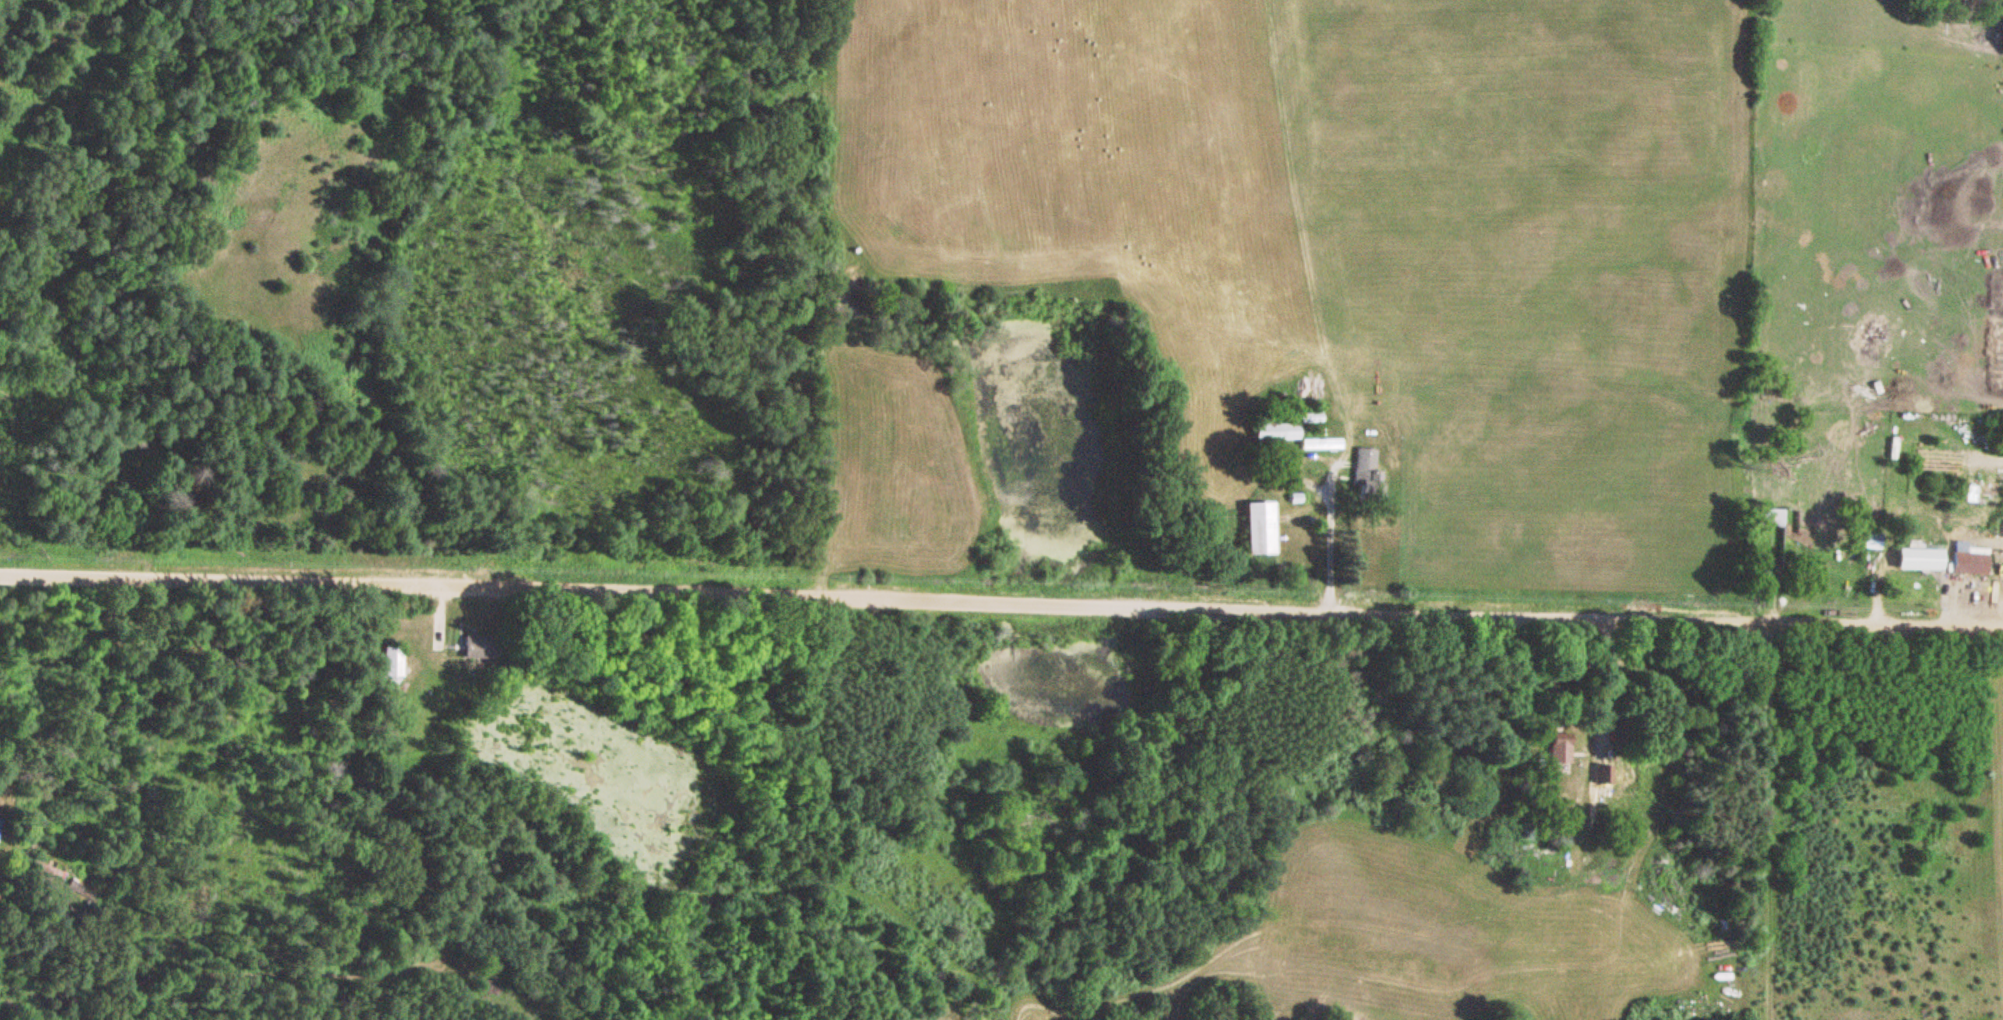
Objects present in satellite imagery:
building: (1306, 414)
building: (1272, 432)
building: (1362, 468)
building: (1254, 529)
building: (1764, 537)
building: (1964, 563)
building: (1841, 599)
road: (1001, 602)
building: (473, 647)
building: (391, 662)
building: (1556, 754)
building: (42, 874)

